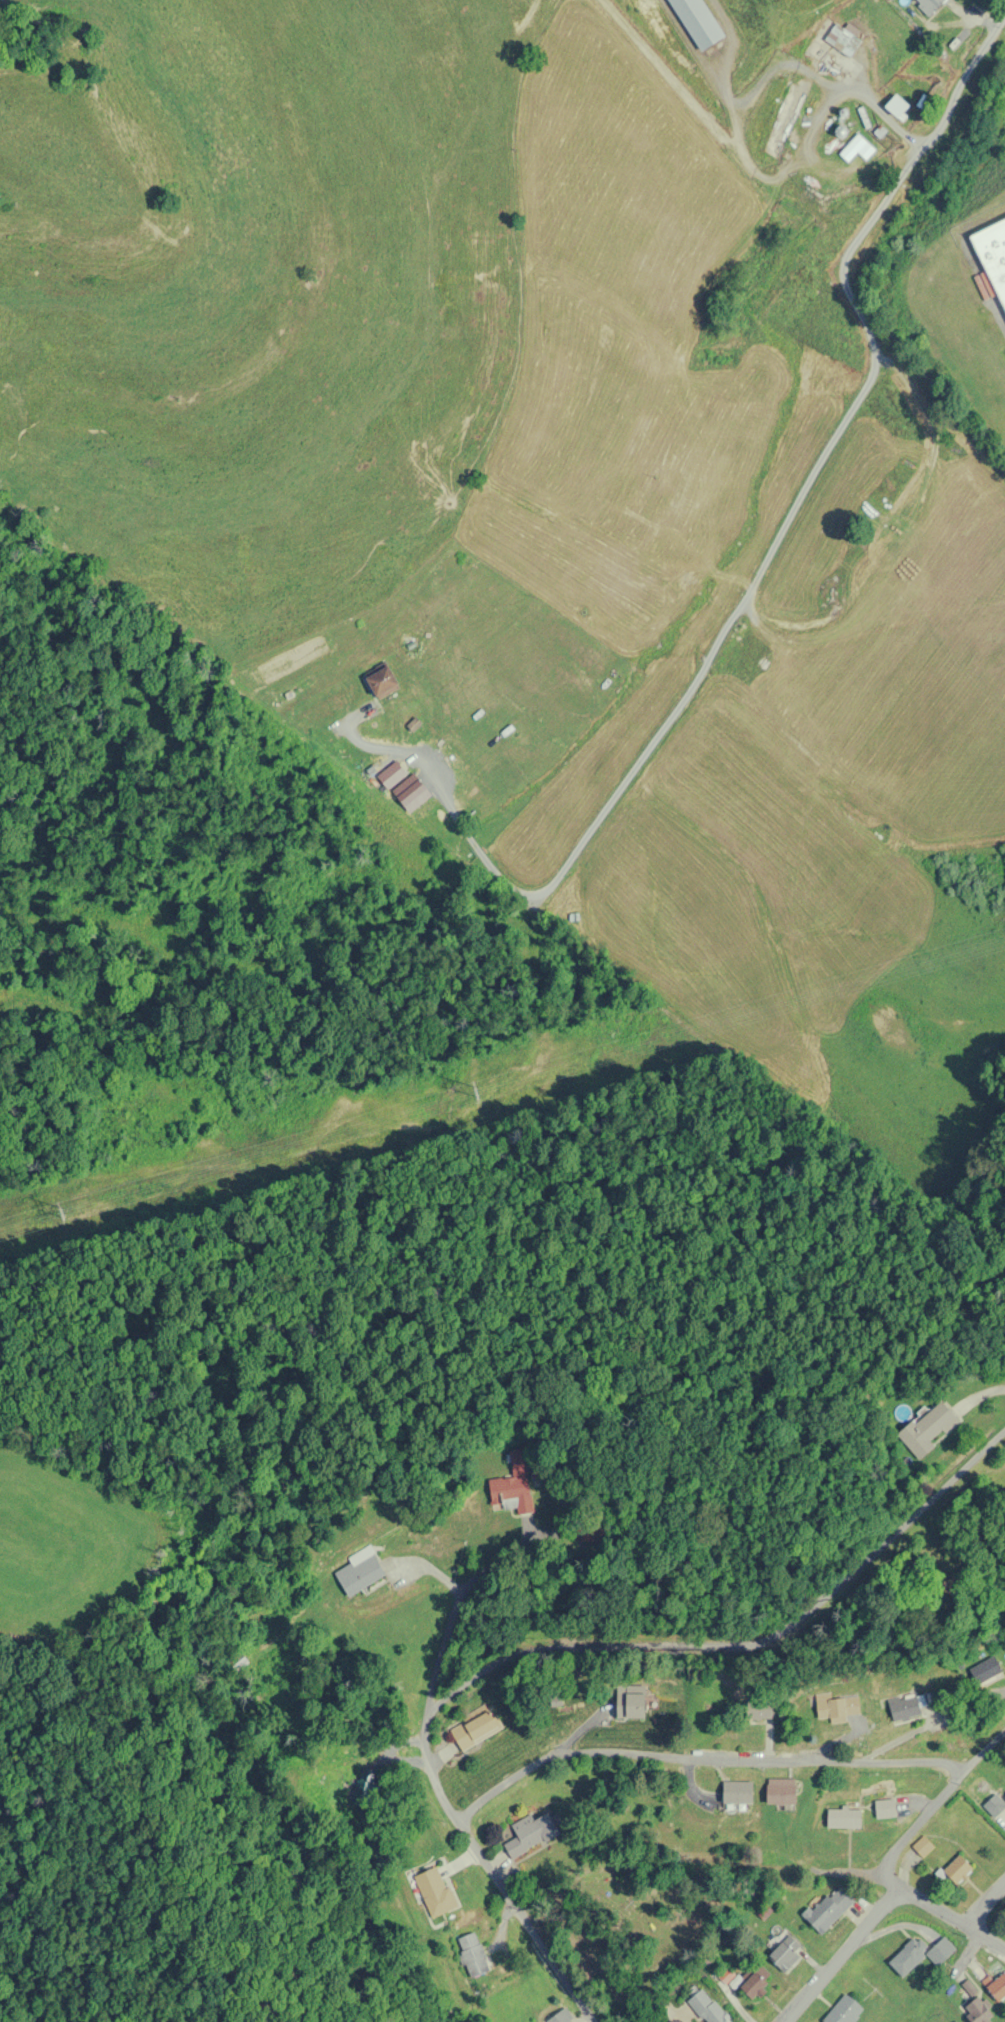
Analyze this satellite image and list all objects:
building: (928, 5)
building: (695, 22)
building: (835, 50)
building: (895, 104)
building: (787, 124)
building: (856, 149)
building: (992, 256)
road: (983, 285)
road: (778, 537)
building: (384, 677)
road: (368, 746)
building: (392, 772)
power tower: (394, 1115)
power tower: (79, 1208)
building: (927, 1429)
building: (511, 1486)
building: (362, 1569)
road: (798, 1617)
building: (985, 1671)
road: (476, 1695)
building: (629, 1706)
building: (834, 1707)
building: (903, 1708)
building: (758, 1710)
building: (475, 1729)
road: (700, 1756)
road: (440, 1779)
building: (779, 1790)
building: (736, 1791)
building: (994, 1806)
building: (884, 1808)
road: (932, 1809)
building: (842, 1817)
building: (530, 1833)
building: (922, 1846)
building: (957, 1870)
building: (435, 1892)
road: (985, 1903)
building: (828, 1908)
road: (954, 1918)
building: (786, 1953)
building: (471, 1954)
building: (919, 1954)
road: (844, 1957)
building: (726, 1975)
building: (754, 1983)
building: (997, 1987)
building: (843, 2011)
building: (976, 2011)
building: (720, 2019)

